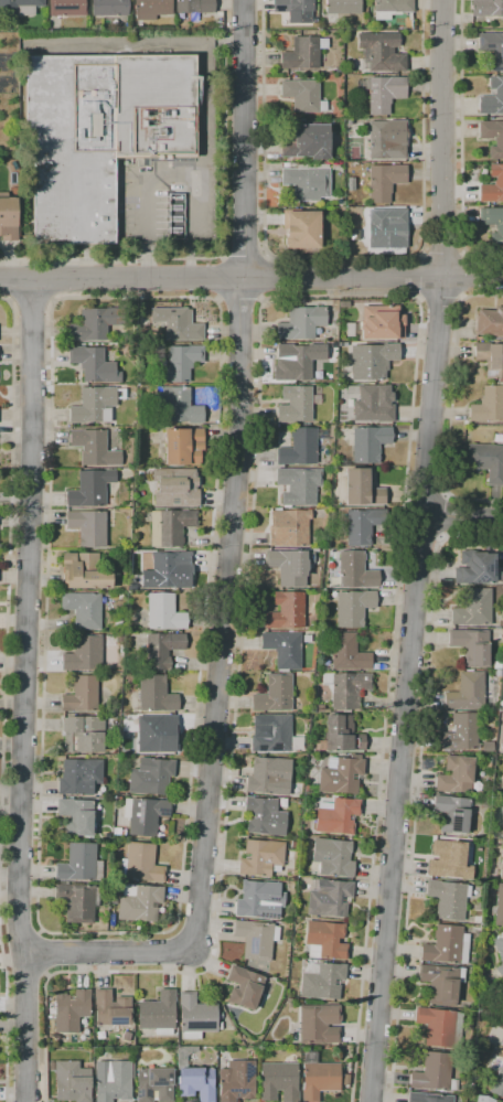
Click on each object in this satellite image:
building: (195, 6)
building: (20, 7)
rooftop solar panel: (63, 8)
building: (68, 8)
building: (110, 8)
building: (341, 8)
building: (392, 8)
building: (486, 8)
building: (151, 9)
rooftop solar panel: (276, 10)
building: (296, 10)
building: (492, 49)
building: (381, 52)
building: (303, 53)
building: (382, 93)
building: (303, 95)
building: (493, 97)
building: (100, 132)
building: (492, 137)
building: (386, 140)
building: (307, 142)
road: (462, 143)
road: (168, 173)
building: (482, 175)
building: (385, 181)
building: (307, 183)
building: (351, 184)
building: (493, 186)
building: (9, 217)
building: (492, 223)
building: (384, 224)
building: (301, 229)
road: (224, 238)
building: (375, 248)
road: (442, 250)
road: (245, 256)
road: (342, 256)
road: (463, 274)
road: (419, 276)
road: (220, 278)
road: (268, 278)
road: (251, 279)
road: (11, 280)
road: (50, 281)
road: (203, 298)
road: (440, 299)
road: (263, 300)
road: (239, 301)
road: (31, 302)
building: (143, 321)
building: (301, 322)
building: (382, 322)
building: (490, 322)
building: (95, 323)
building: (178, 323)
building: (480, 338)
building: (491, 359)
building: (297, 361)
building: (372, 361)
building: (182, 362)
building: (94, 364)
rooftop solar panel: (501, 372)
rooftop solar panel: (489, 374)
road: (451, 400)
building: (373, 403)
building: (96, 404)
building: (296, 404)
building: (489, 404)
building: (179, 405)
building: (325, 432)
building: (499, 438)
building: (368, 443)
building: (184, 447)
building: (299, 447)
building: (94, 448)
building: (486, 461)
building: (299, 485)
building: (175, 488)
building: (362, 488)
building: (90, 489)
road: (447, 493)
rooftop solar panel: (172, 505)
road: (440, 515)
road: (461, 517)
building: (363, 525)
building: (89, 526)
building: (171, 526)
building: (288, 528)
road: (439, 537)
road: (418, 550)
road: (227, 560)
building: (291, 566)
building: (475, 566)
rooftop solar panel: (488, 569)
rooftop solar panel: (492, 569)
building: (169, 570)
building: (356, 570)
building: (85, 573)
rooftop solar panel: (483, 579)
road: (9, 584)
building: (353, 607)
building: (473, 608)
building: (83, 609)
building: (287, 611)
building: (162, 613)
building: (471, 645)
building: (321, 648)
building: (283, 649)
building: (162, 650)
building: (347, 653)
building: (84, 654)
building: (497, 664)
building: (497, 672)
building: (346, 688)
building: (467, 691)
road: (24, 692)
building: (156, 694)
building: (274, 694)
building: (82, 695)
building: (318, 708)
building: (114, 726)
building: (271, 732)
building: (461, 732)
building: (84, 734)
building: (157, 734)
building: (340, 735)
rooftop solar panel: (84, 743)
rooftop solar panel: (277, 747)
building: (488, 747)
rooftop solar panel: (264, 748)
building: (488, 761)
building: (341, 774)
building: (456, 774)
building: (151, 775)
building: (269, 775)
building: (79, 777)
road: (417, 788)
building: (495, 793)
building: (118, 799)
building: (484, 803)
rooftop solar panel: (457, 811)
rooftop solar panel: (164, 812)
rooftop solar panel: (140, 813)
building: (453, 813)
building: (145, 815)
building: (336, 815)
building: (76, 816)
building: (265, 816)
rooftop solar panel: (456, 824)
building: (493, 833)
building: (107, 836)
building: (261, 857)
building: (333, 857)
building: (449, 859)
building: (141, 863)
building: (79, 864)
building: (501, 865)
building: (329, 897)
building: (448, 898)
building: (259, 899)
building: (77, 901)
building: (139, 902)
building: (499, 907)
rooftop solar panel: (269, 916)
road: (20, 933)
building: (256, 939)
building: (325, 940)
building: (447, 945)
road: (43, 952)
building: (499, 952)
road: (24, 975)
building: (322, 980)
building: (441, 983)
building: (244, 987)
building: (267, 988)
building: (71, 1009)
building: (111, 1009)
road: (6, 1013)
building: (158, 1013)
building: (196, 1016)
rooftop solar panel: (115, 1023)
building: (319, 1024)
rooftop solar panel: (200, 1025)
building: (220, 1025)
building: (440, 1026)
building: (126, 1036)
building: (253, 1055)
rooftop solar panel: (247, 1070)
building: (435, 1072)
building: (496, 1074)
building: (194, 1077)
building: (318, 1077)
building: (113, 1080)
building: (237, 1081)
building: (279, 1081)
building: (72, 1082)
building: (154, 1084)
rooftop solar panel: (239, 1091)
building: (428, 1098)
building: (483, 1099)

